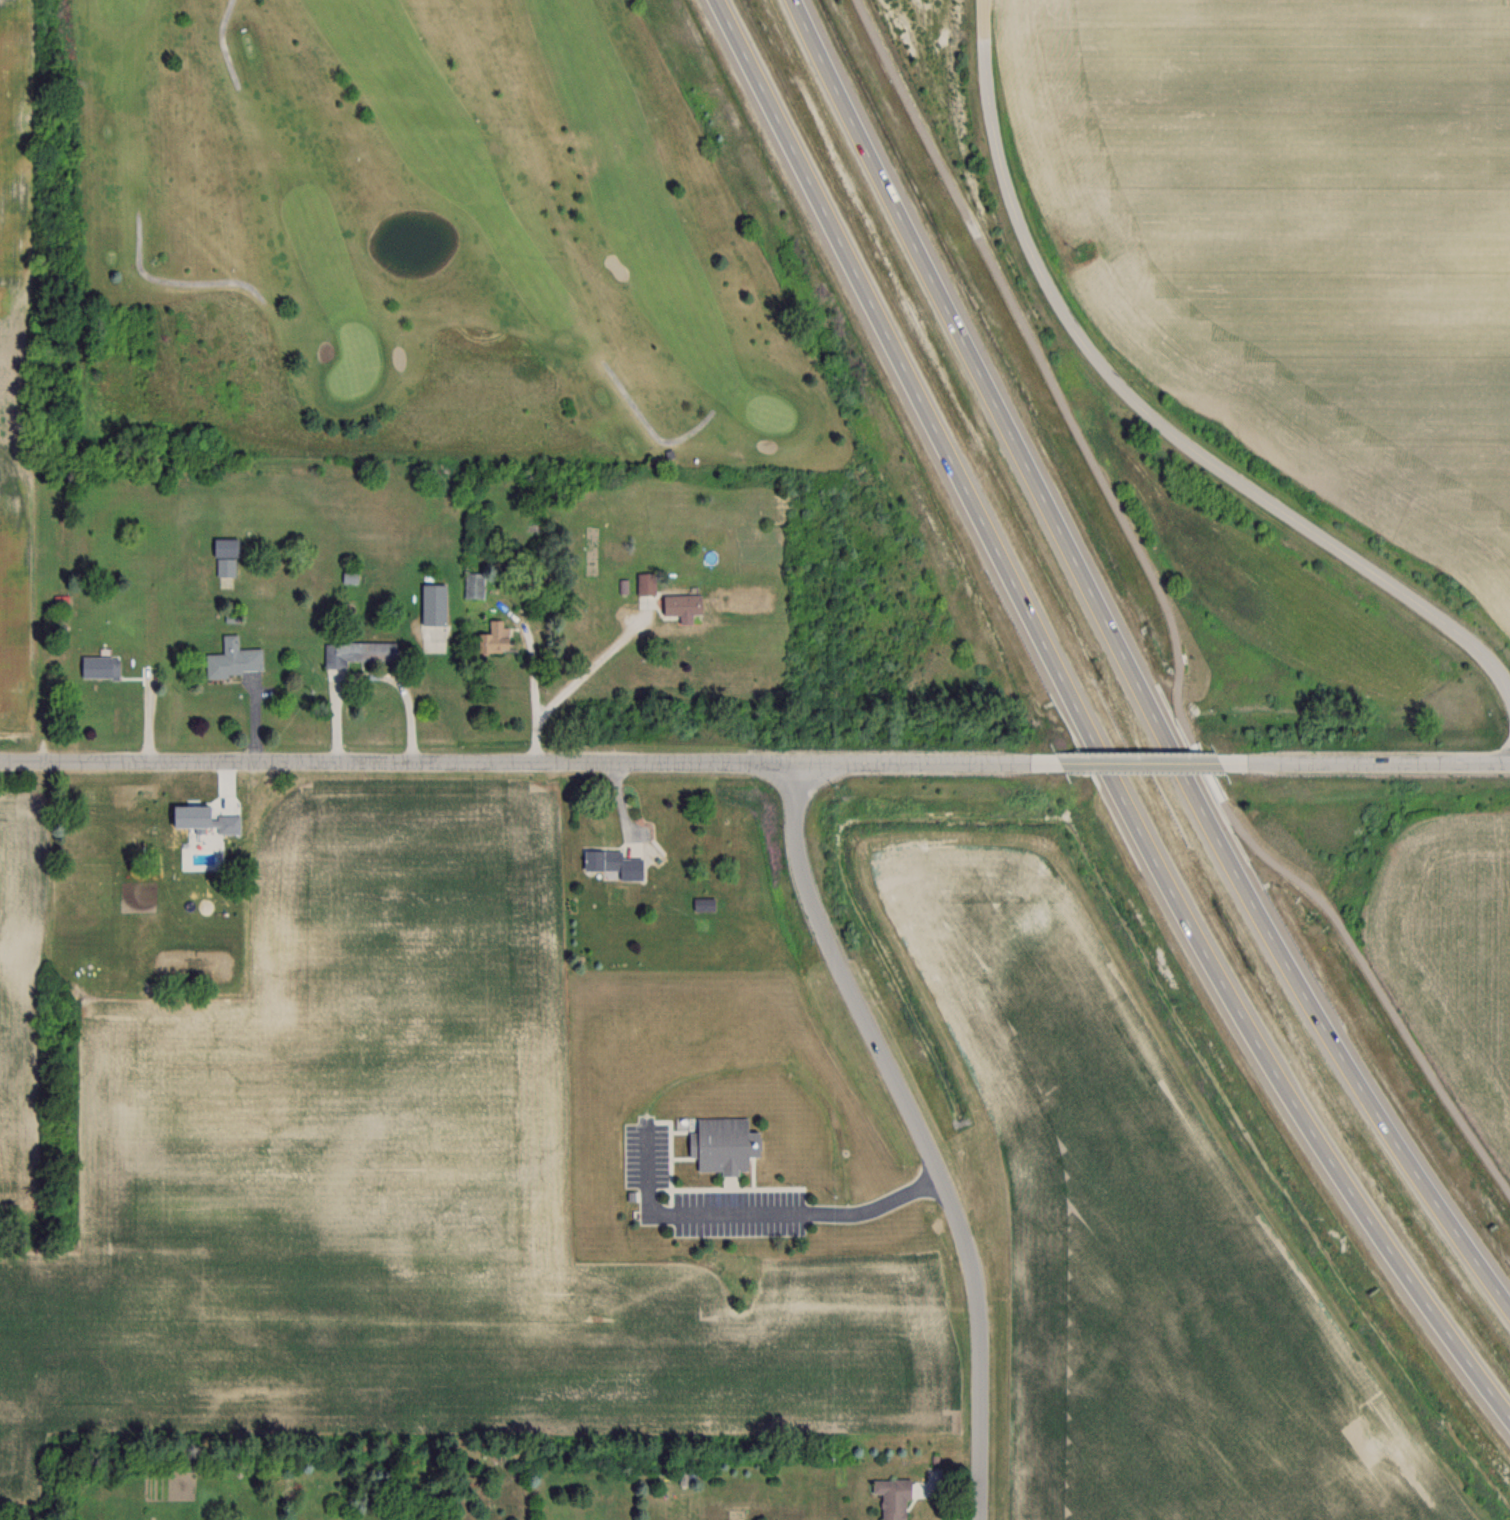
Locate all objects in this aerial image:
park: (408, 243)
road: (1148, 413)
building: (224, 555)
building: (349, 577)
building: (645, 583)
building: (432, 603)
building: (681, 605)
road: (1148, 623)
building: (492, 637)
building: (357, 653)
building: (233, 659)
road: (1130, 663)
road: (591, 665)
building: (99, 666)
road: (366, 673)
road: (532, 692)
road: (1086, 725)
road: (1138, 760)
road: (1378, 762)
road: (515, 763)
building: (211, 820)
building: (611, 865)
building: (704, 904)
road: (922, 1130)
building: (722, 1144)
road: (750, 1212)
building: (892, 1496)

